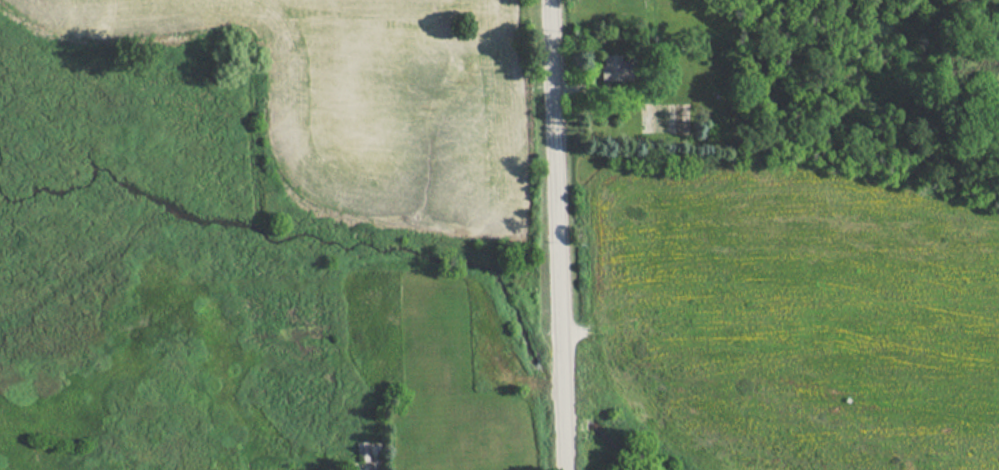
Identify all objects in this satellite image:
building: (616, 69)
crop: (365, 91)
road: (557, 234)
crop: (809, 327)
road: (574, 333)
building: (361, 451)

